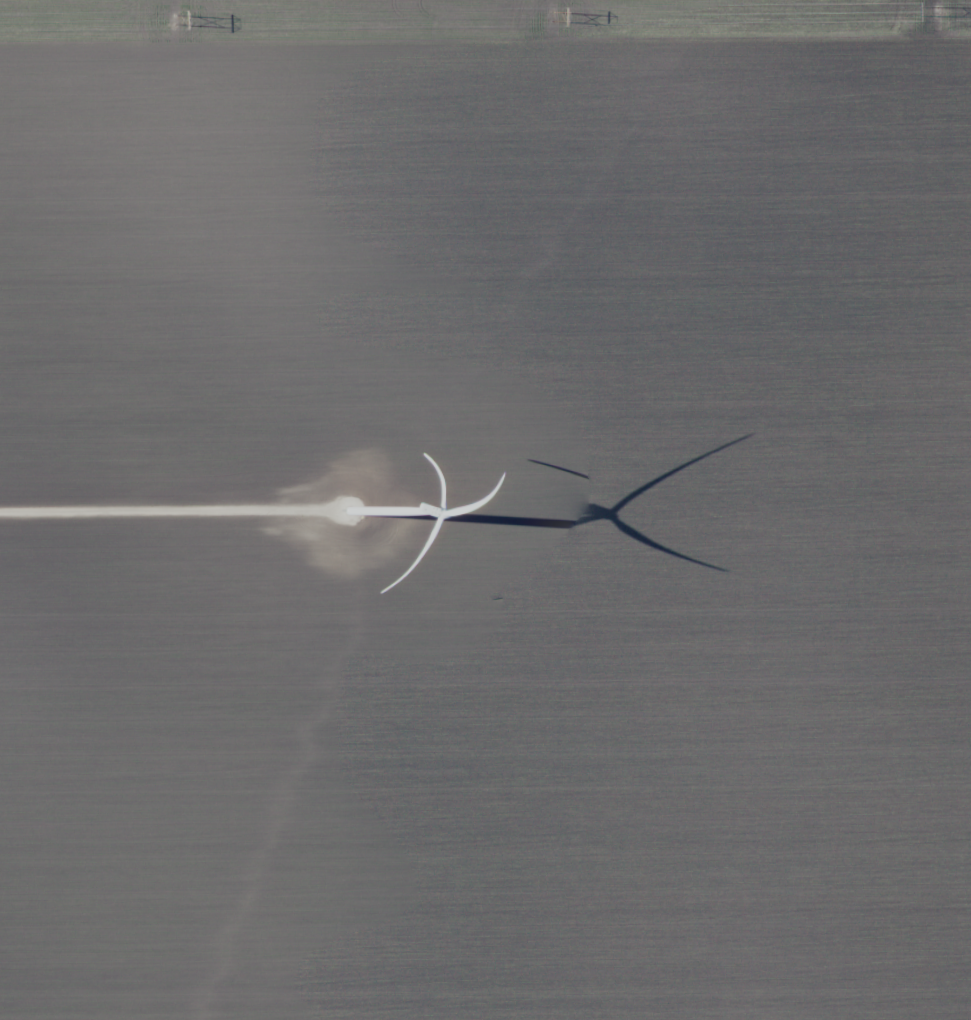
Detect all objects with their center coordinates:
power tower: (941, 10)
power tower: (557, 14)
power tower: (179, 18)
wind turbine: (352, 506)

